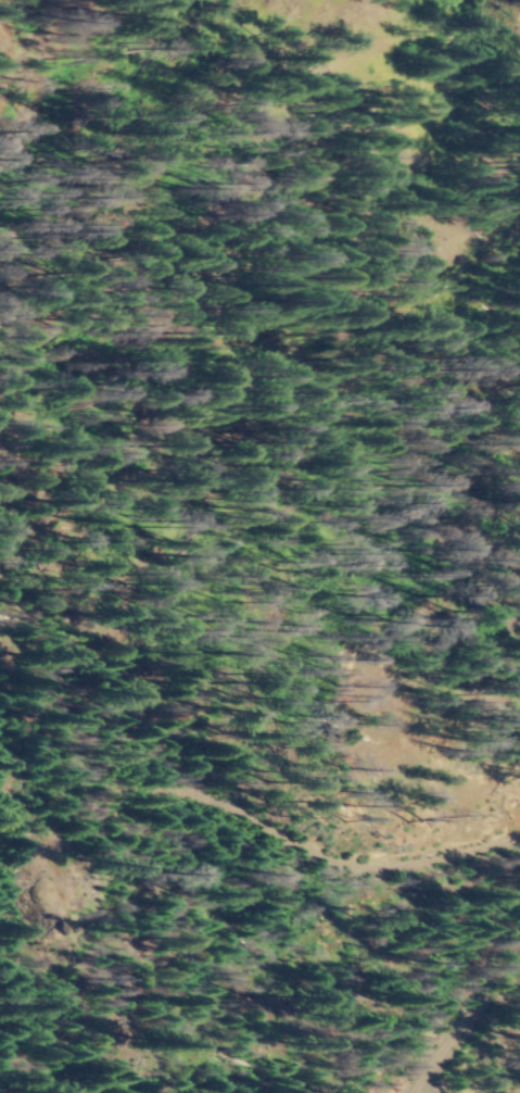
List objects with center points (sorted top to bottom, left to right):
road: (220, 511)
road: (275, 832)
road: (457, 1016)

